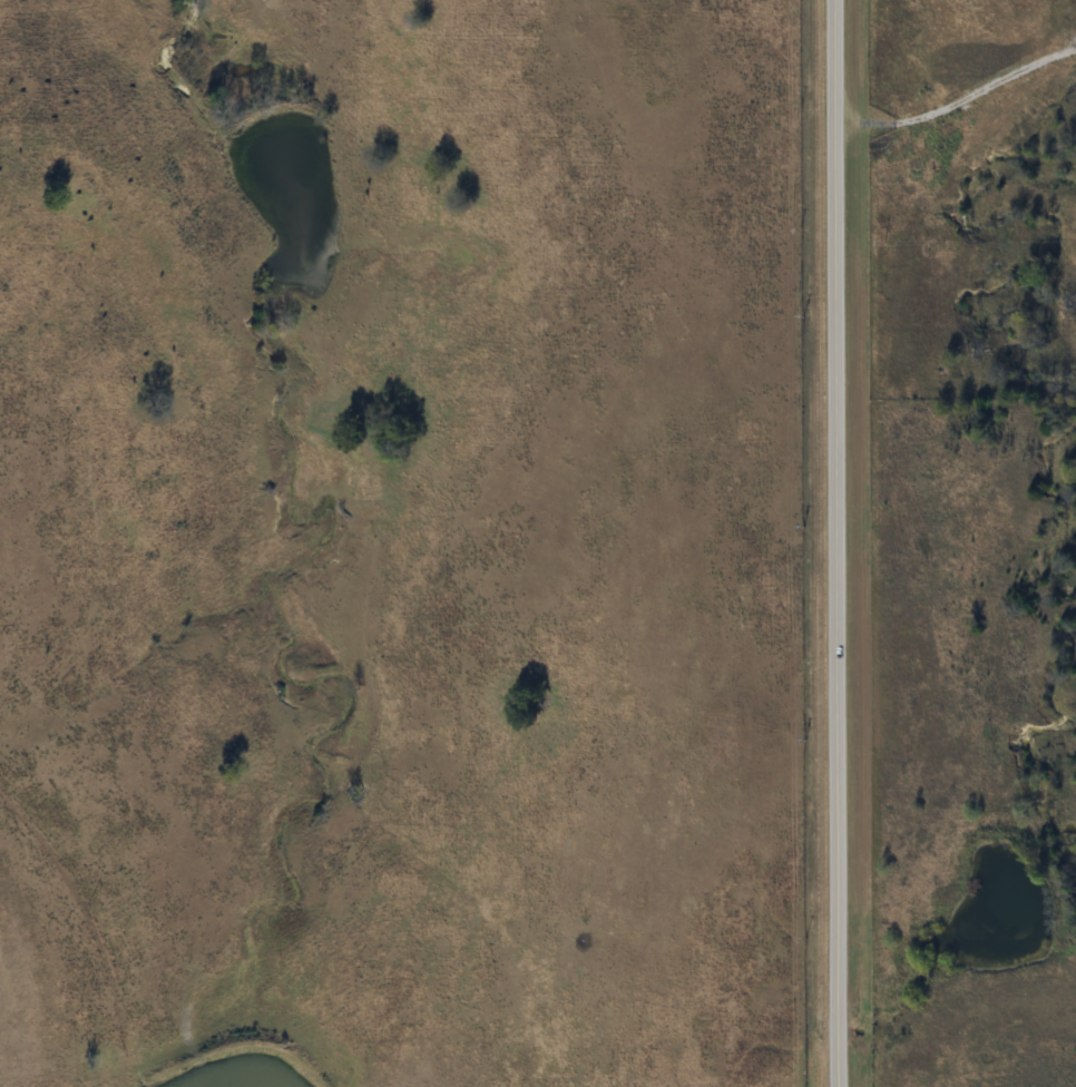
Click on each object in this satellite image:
road: (826, 543)

